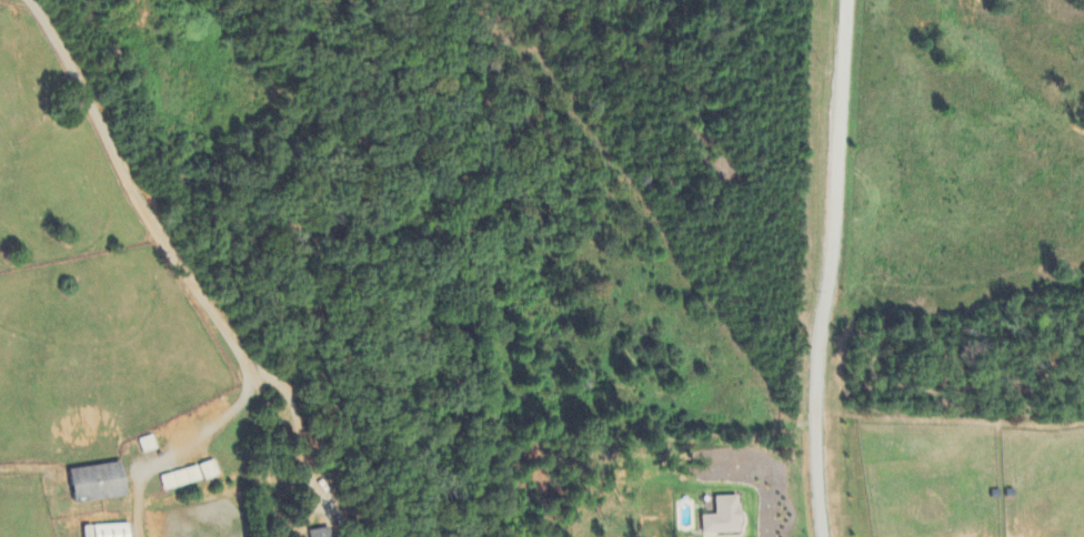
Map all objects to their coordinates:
road: (171, 253)
road: (829, 267)
road: (301, 421)
building: (147, 445)
building: (188, 477)
building: (93, 484)
building: (722, 517)
building: (104, 531)
building: (319, 534)

